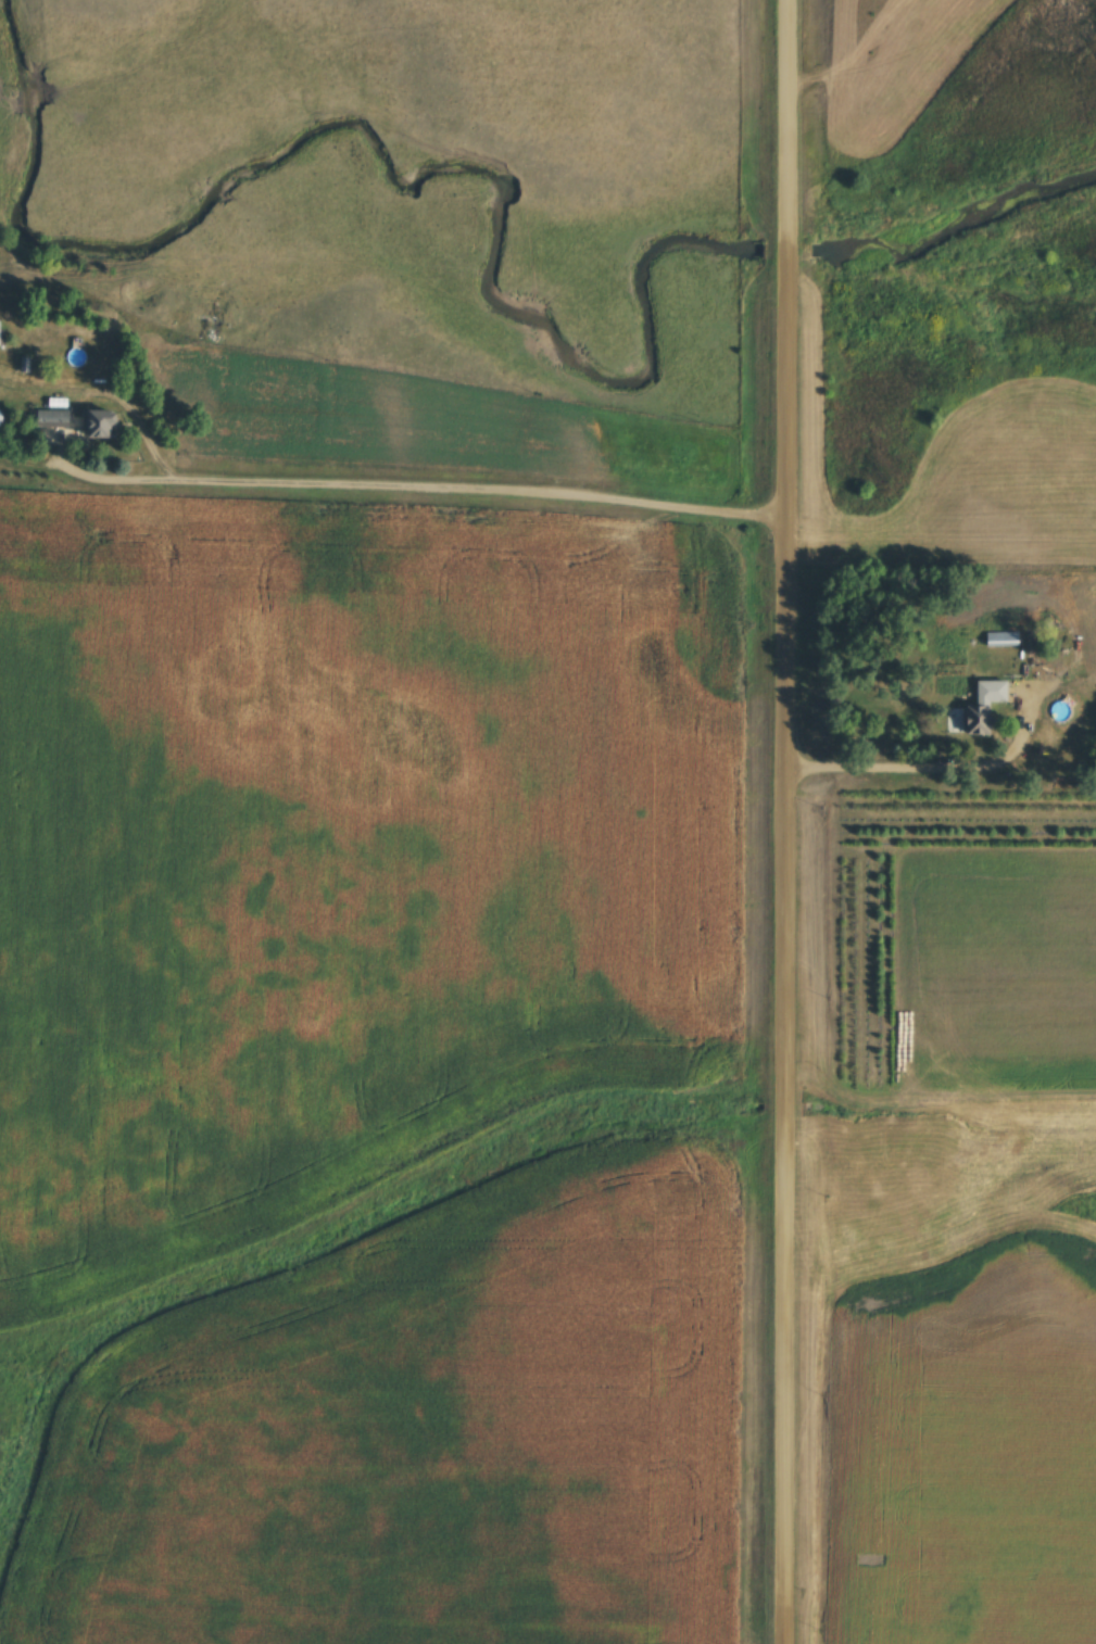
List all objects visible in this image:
building: (2, 333)
building: (3, 418)
building: (58, 419)
building: (106, 423)
road: (178, 473)
road: (489, 486)
road: (940, 556)
building: (1003, 638)
building: (995, 693)
building: (982, 721)
road: (931, 764)
road: (782, 821)
crop: (342, 864)
crop: (965, 974)
crop: (968, 1455)

